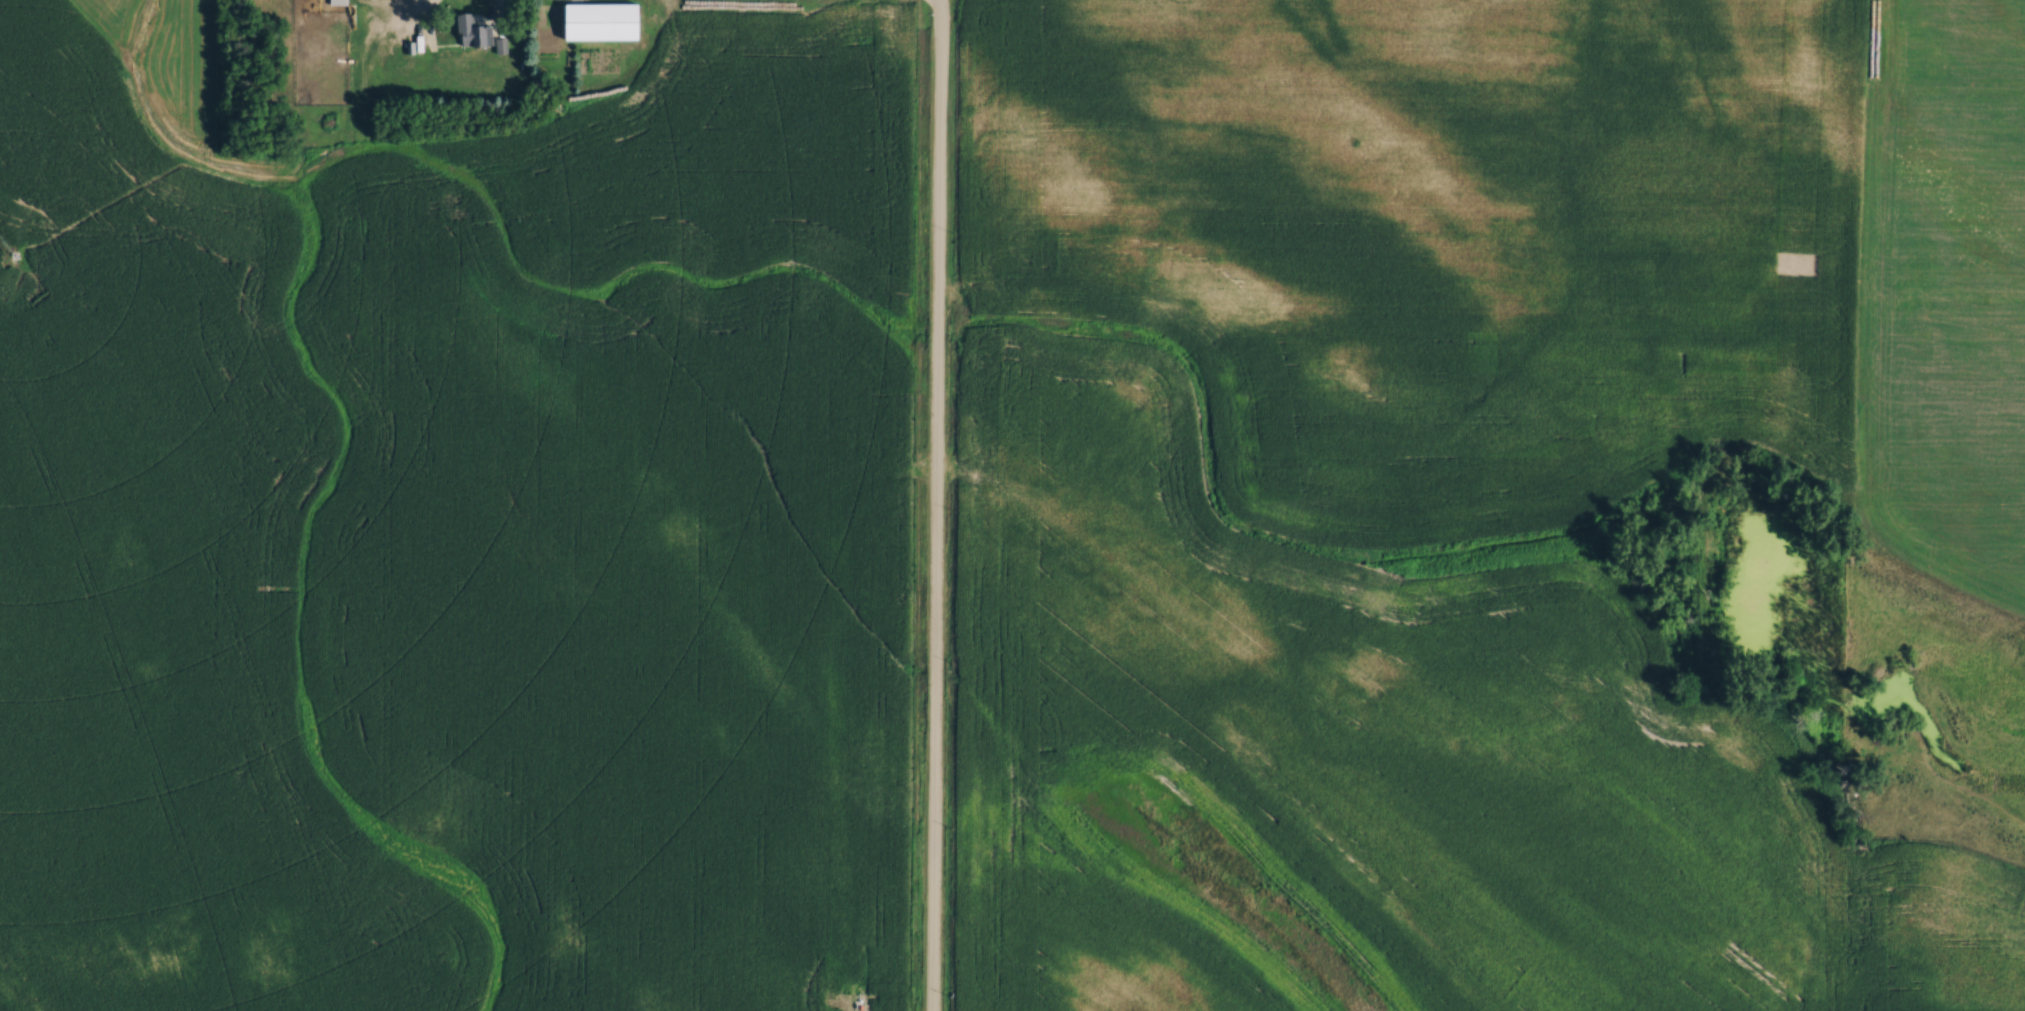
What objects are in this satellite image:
building: (340, 2)
building: (603, 22)
building: (474, 32)
road: (936, 505)

